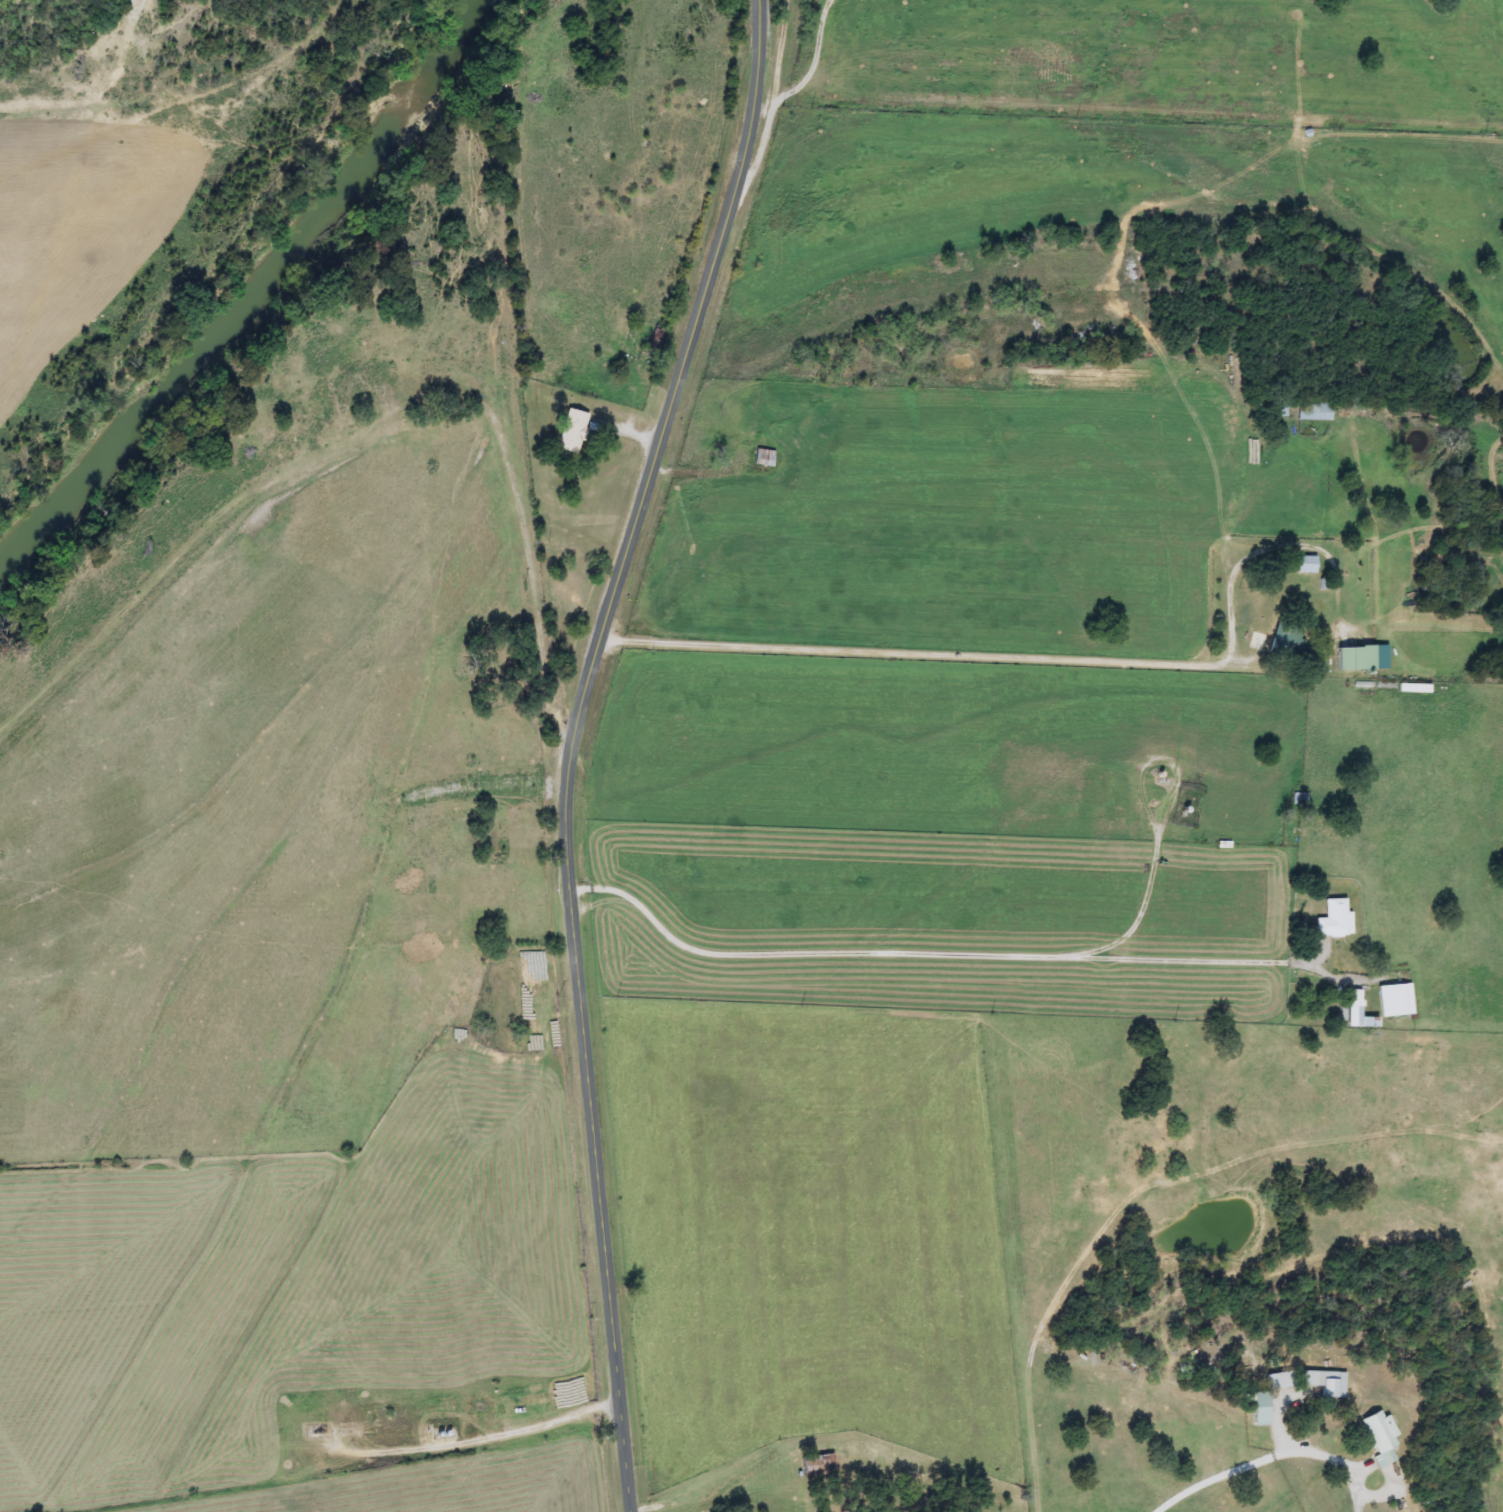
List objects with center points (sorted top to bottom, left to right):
building: (656, 338)
road: (393, 362)
building: (1314, 410)
building: (571, 431)
building: (763, 461)
road: (1223, 530)
building: (1306, 565)
road: (530, 581)
building: (1288, 643)
road: (921, 653)
building: (1356, 658)
road: (573, 745)
road: (1160, 755)
building: (1299, 800)
road: (1139, 900)
building: (1335, 918)
road: (929, 953)
building: (1395, 1000)
building: (1357, 1011)
road: (1196, 1182)
building: (1280, 1380)
building: (1325, 1382)
building: (1262, 1409)
building: (1380, 1437)
building: (817, 1466)
road: (841, 1492)
building: (918, 1508)

